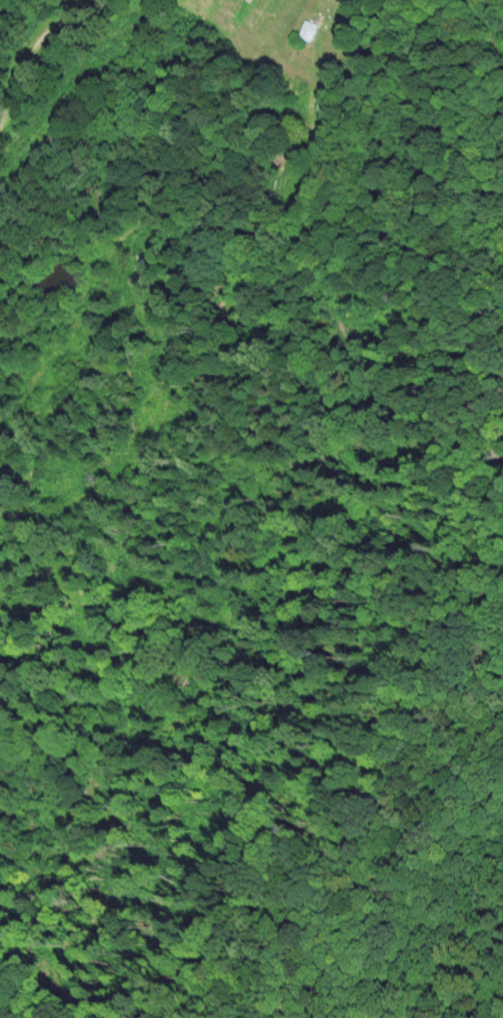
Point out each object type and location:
building: (308, 29)
road: (31, 56)

